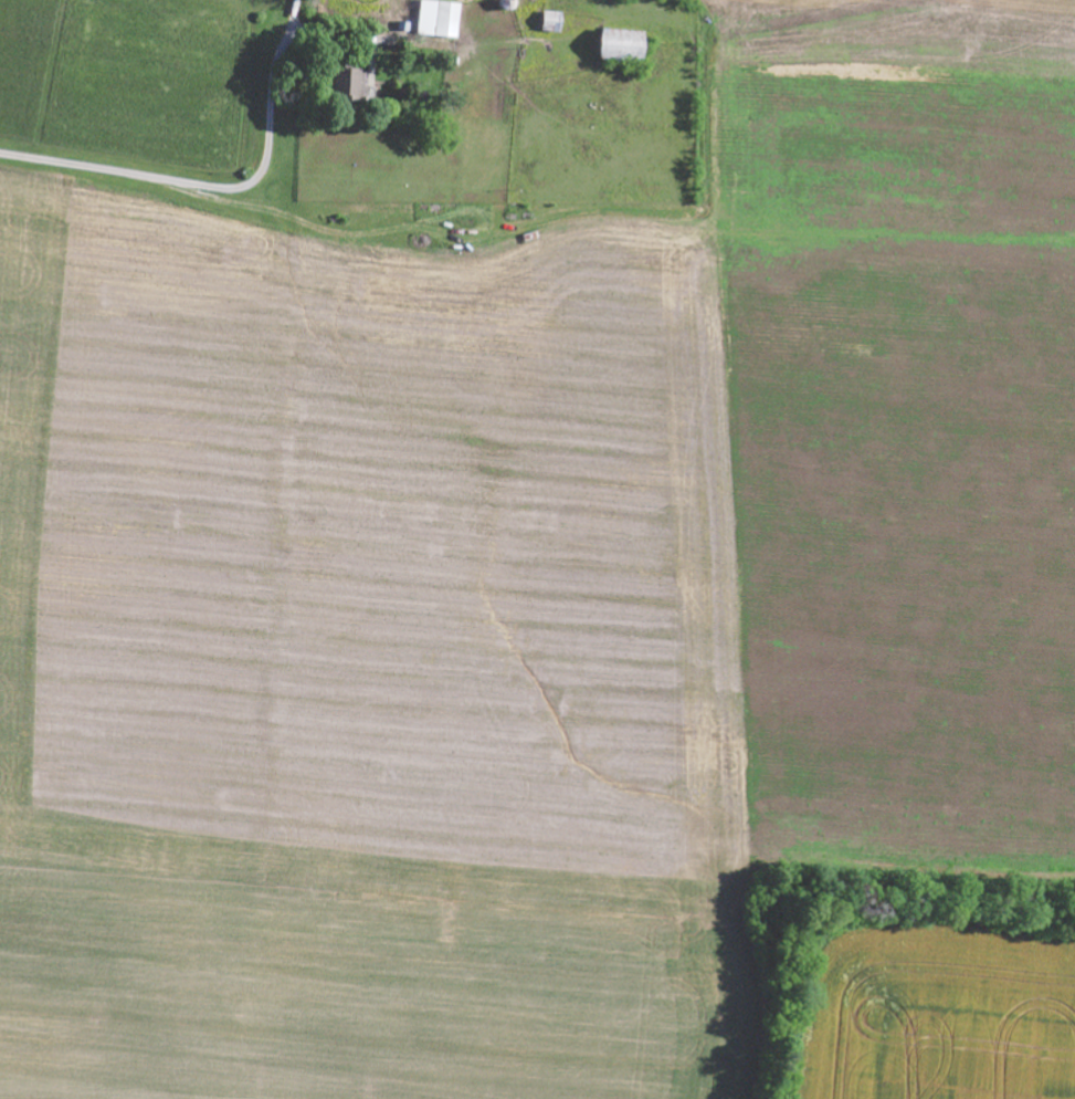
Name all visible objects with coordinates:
building: (441, 20)
building: (555, 21)
building: (626, 46)
building: (354, 85)
road: (167, 179)

